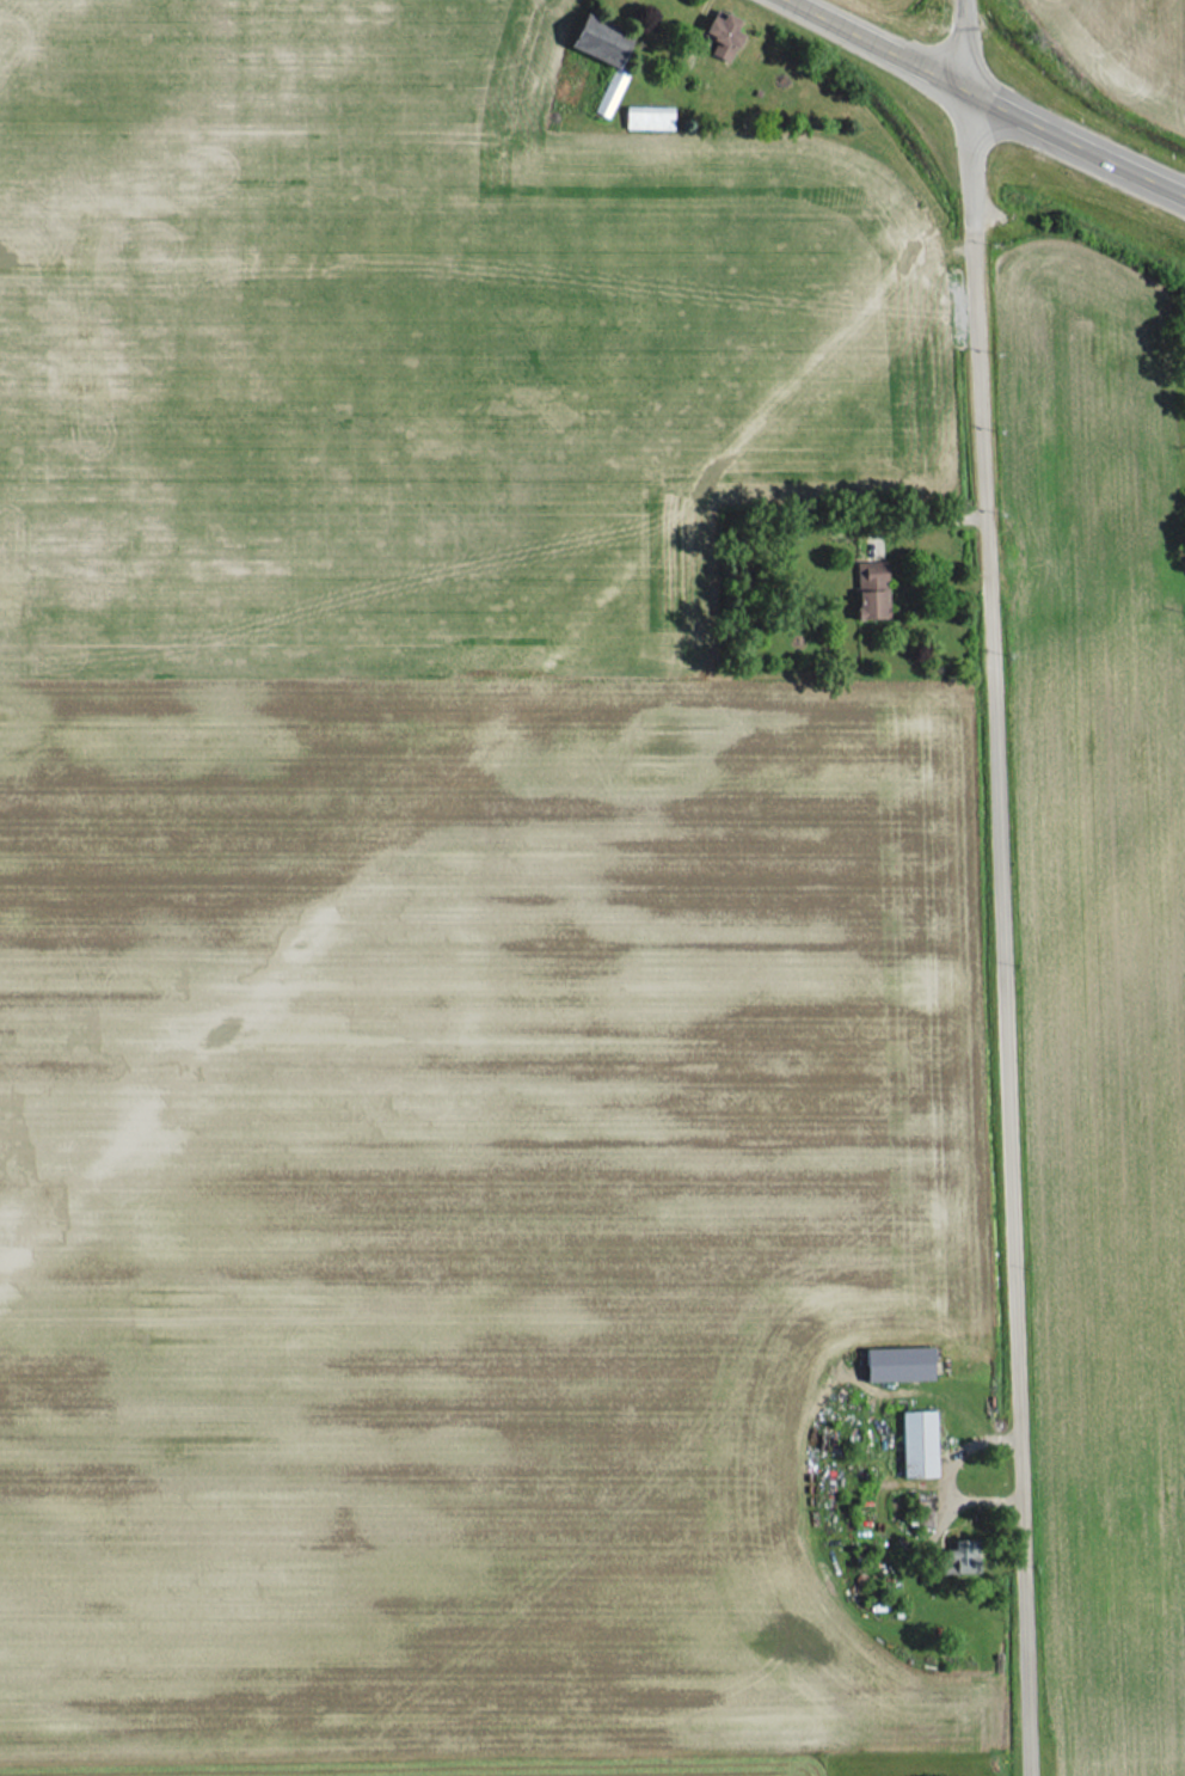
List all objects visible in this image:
building: (723, 35)
road: (890, 41)
building: (603, 55)
building: (646, 118)
road: (1076, 135)
crop: (410, 342)
building: (870, 596)
road: (1000, 887)
crop: (462, 1209)
building: (898, 1365)
building: (916, 1445)
building: (964, 1555)

